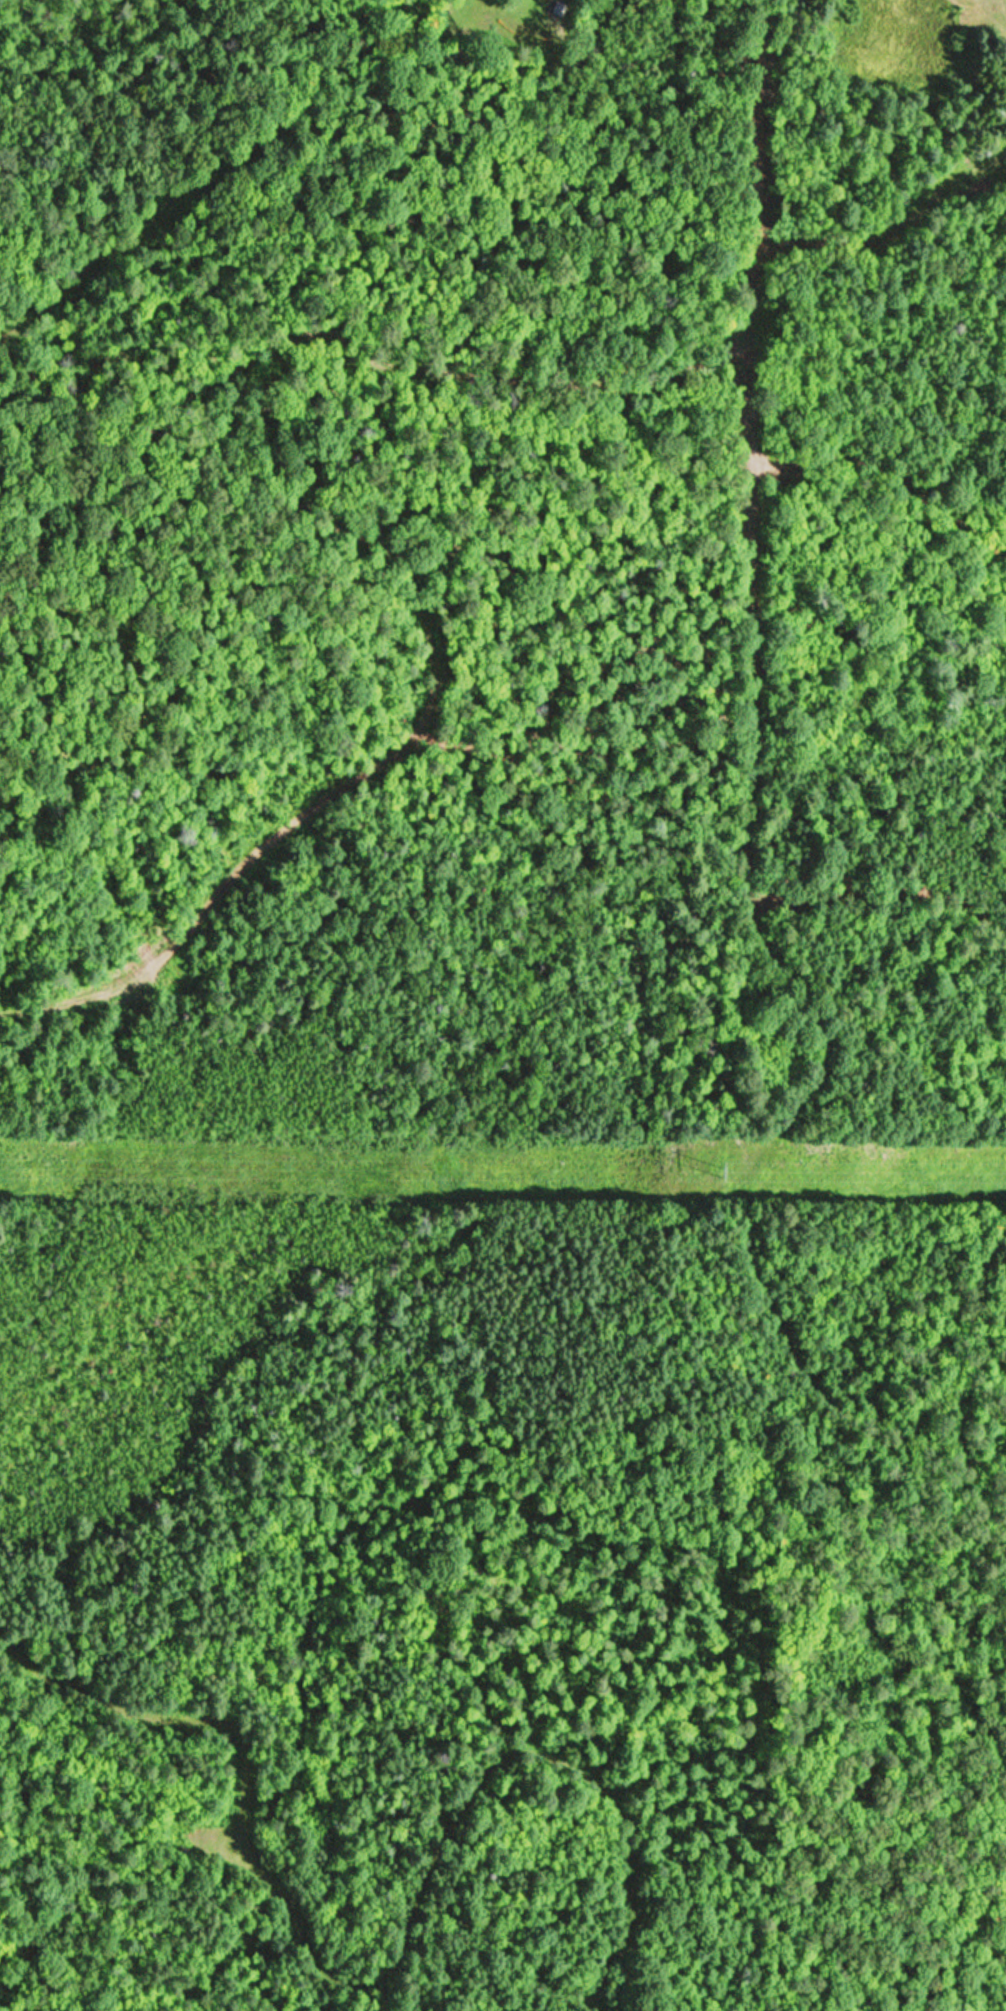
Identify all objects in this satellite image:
power tower: (718, 1171)

